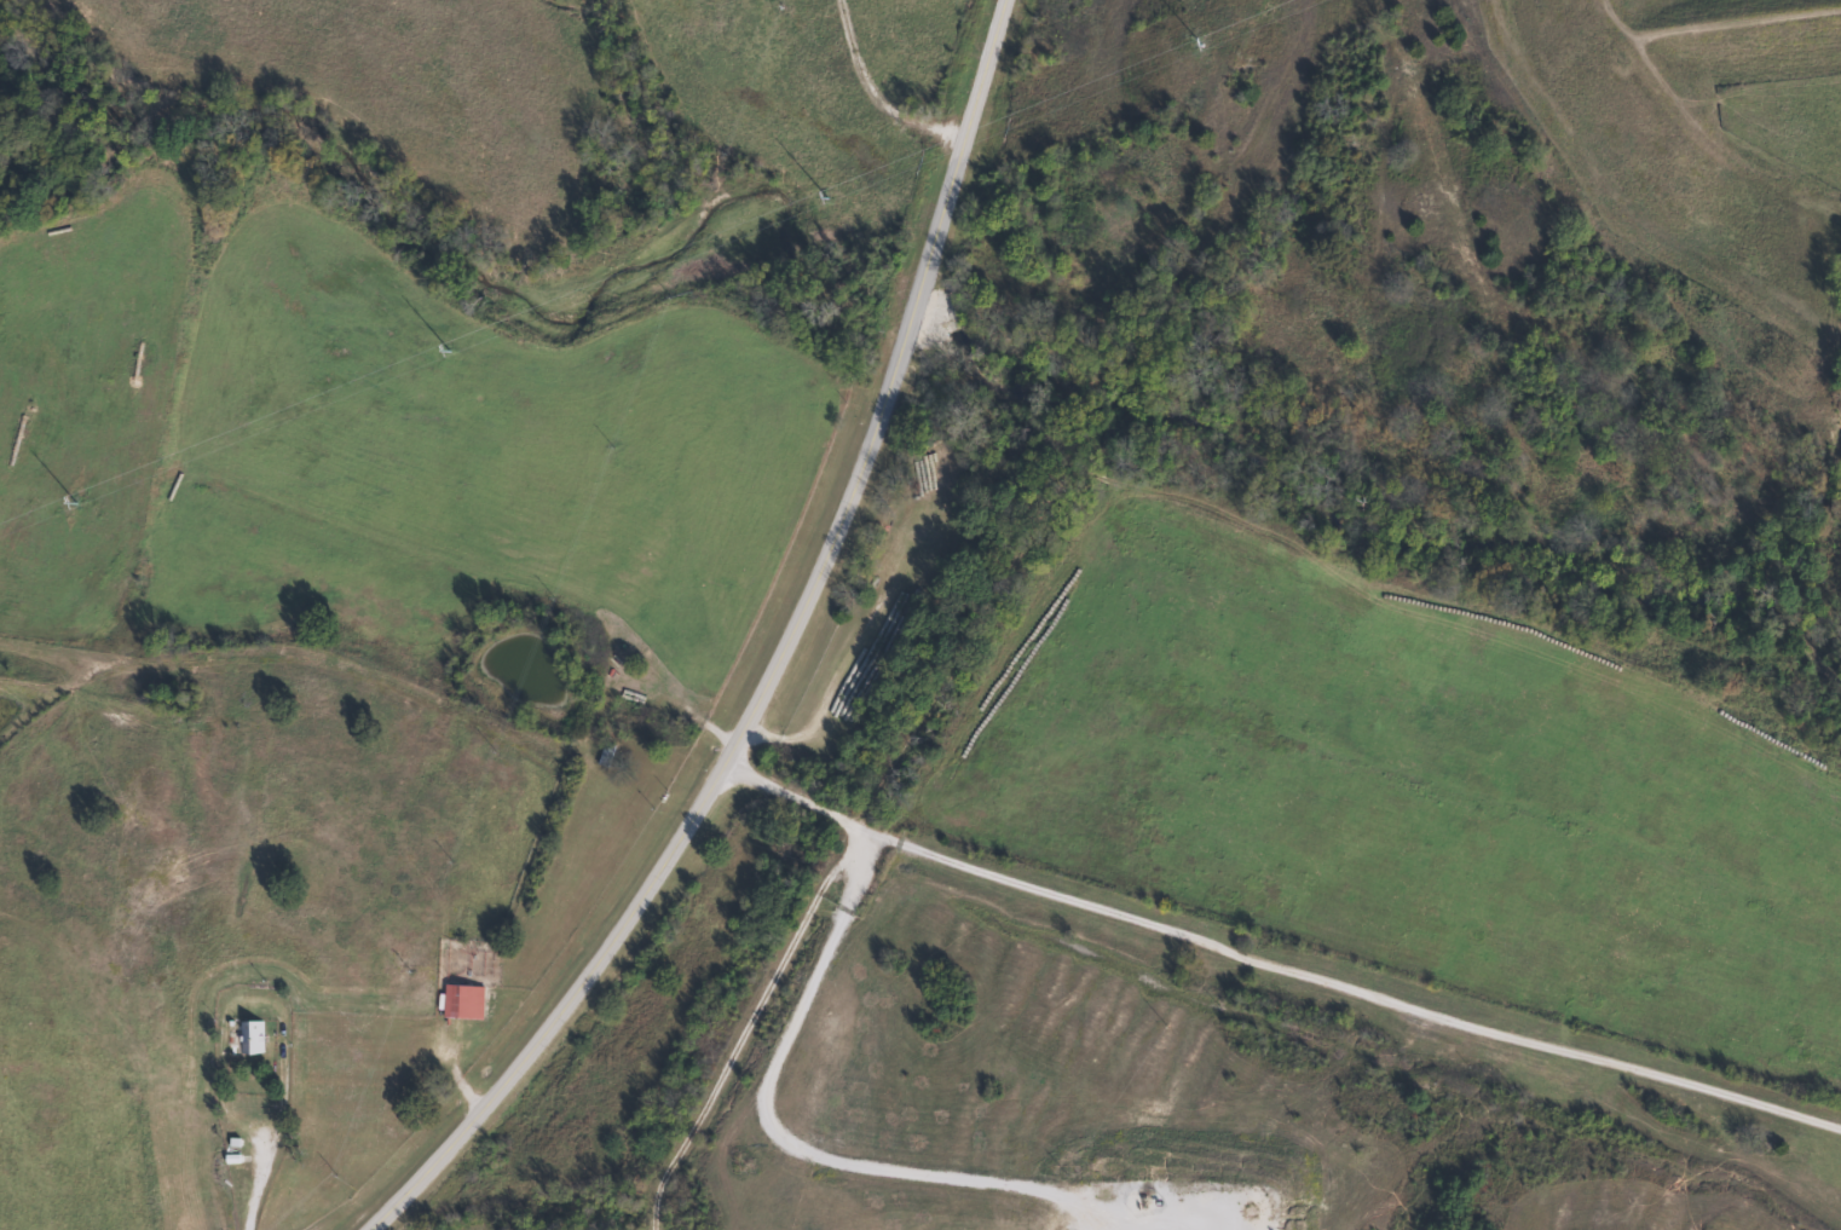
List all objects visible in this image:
power tower: (1199, 44)
power tower: (823, 196)
power tower: (446, 346)
power tower: (73, 502)
road: (773, 663)
building: (602, 755)
building: (457, 1001)
building: (247, 1036)
road: (789, 1092)

